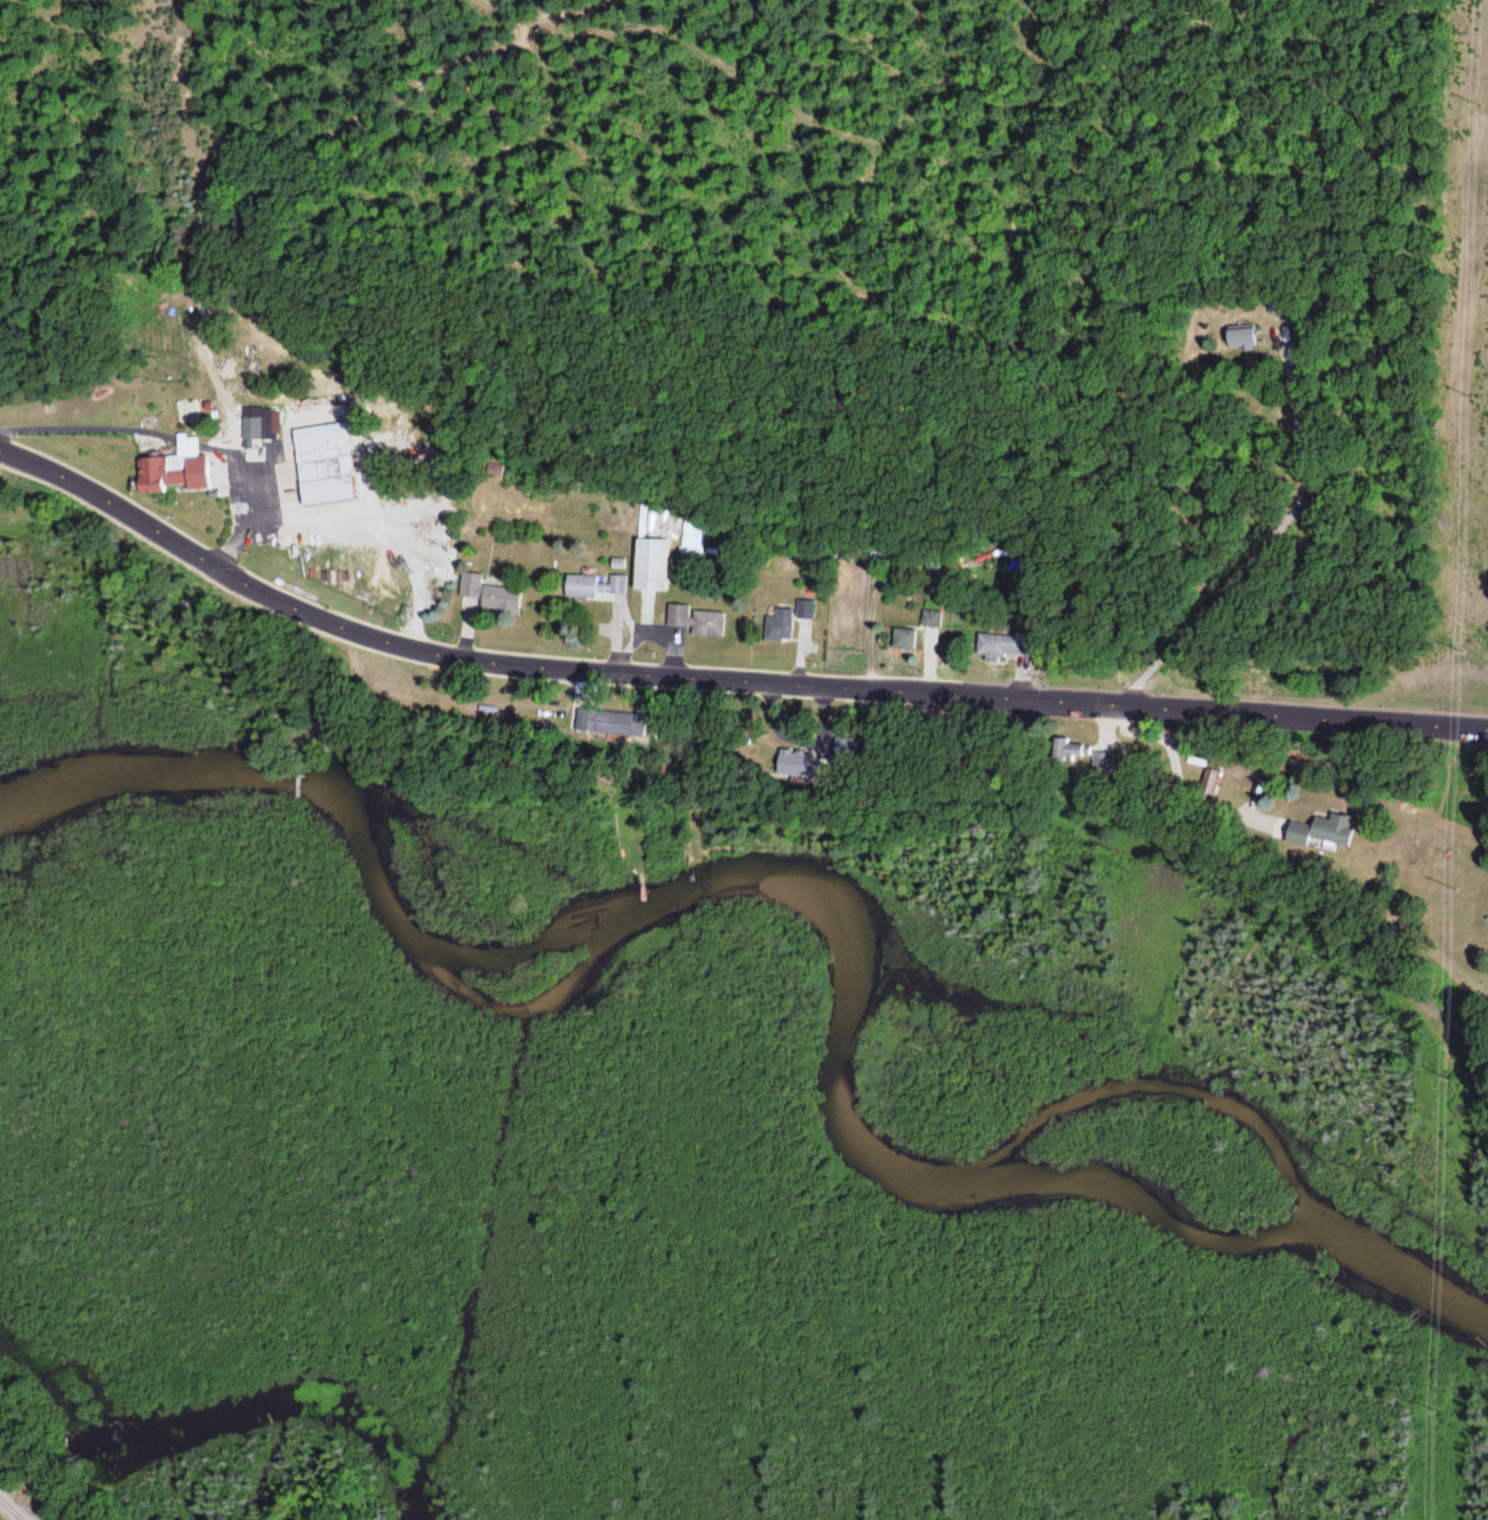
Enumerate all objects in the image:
building: (1242, 340)
building: (256, 424)
building: (177, 469)
building: (322, 470)
building: (691, 538)
building: (650, 565)
building: (470, 586)
building: (592, 587)
building: (500, 600)
building: (931, 619)
building: (693, 620)
building: (778, 628)
building: (903, 639)
building: (1005, 644)
road: (719, 683)
building: (1068, 751)
building: (1211, 784)
building: (1317, 833)
river: (821, 898)
railway: (12, 1508)

